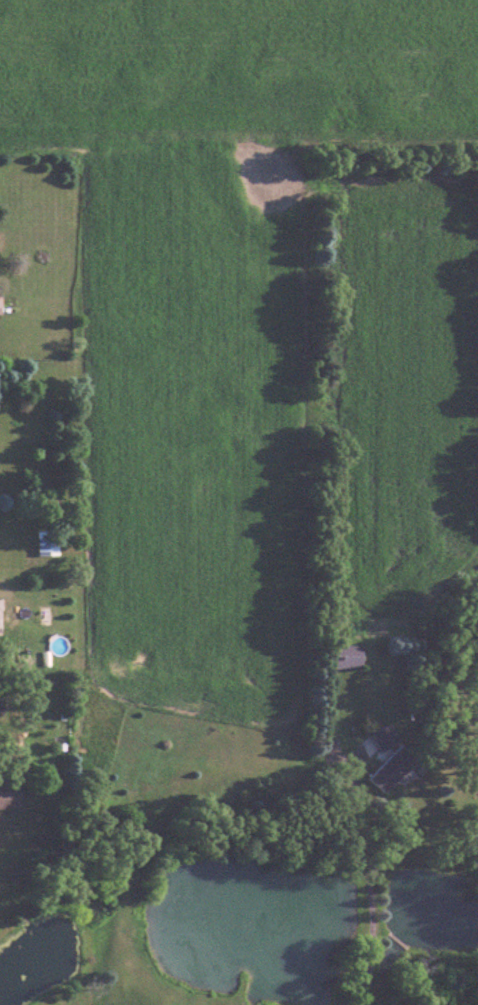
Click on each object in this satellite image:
building: (50, 543)
building: (352, 657)
building: (394, 759)
building: (11, 799)
road: (370, 882)

